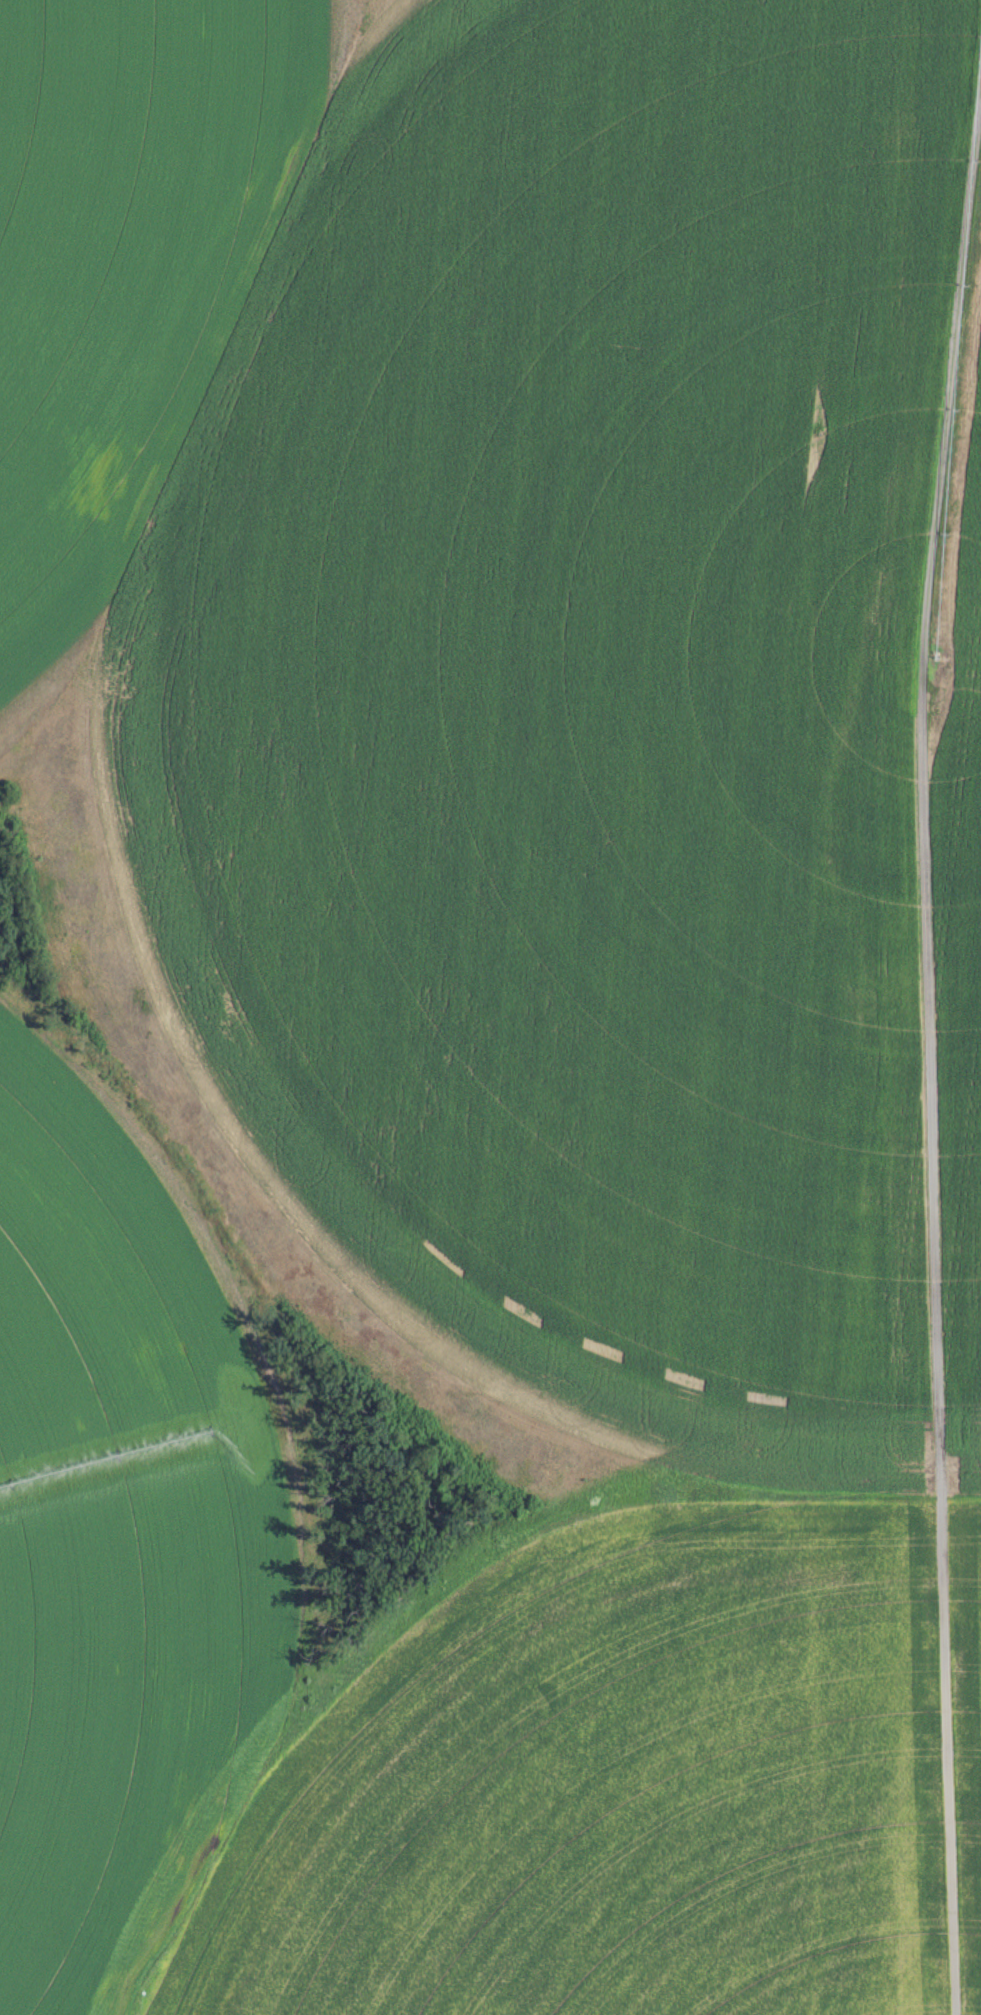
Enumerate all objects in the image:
wastewater plant: (490, 1007)

